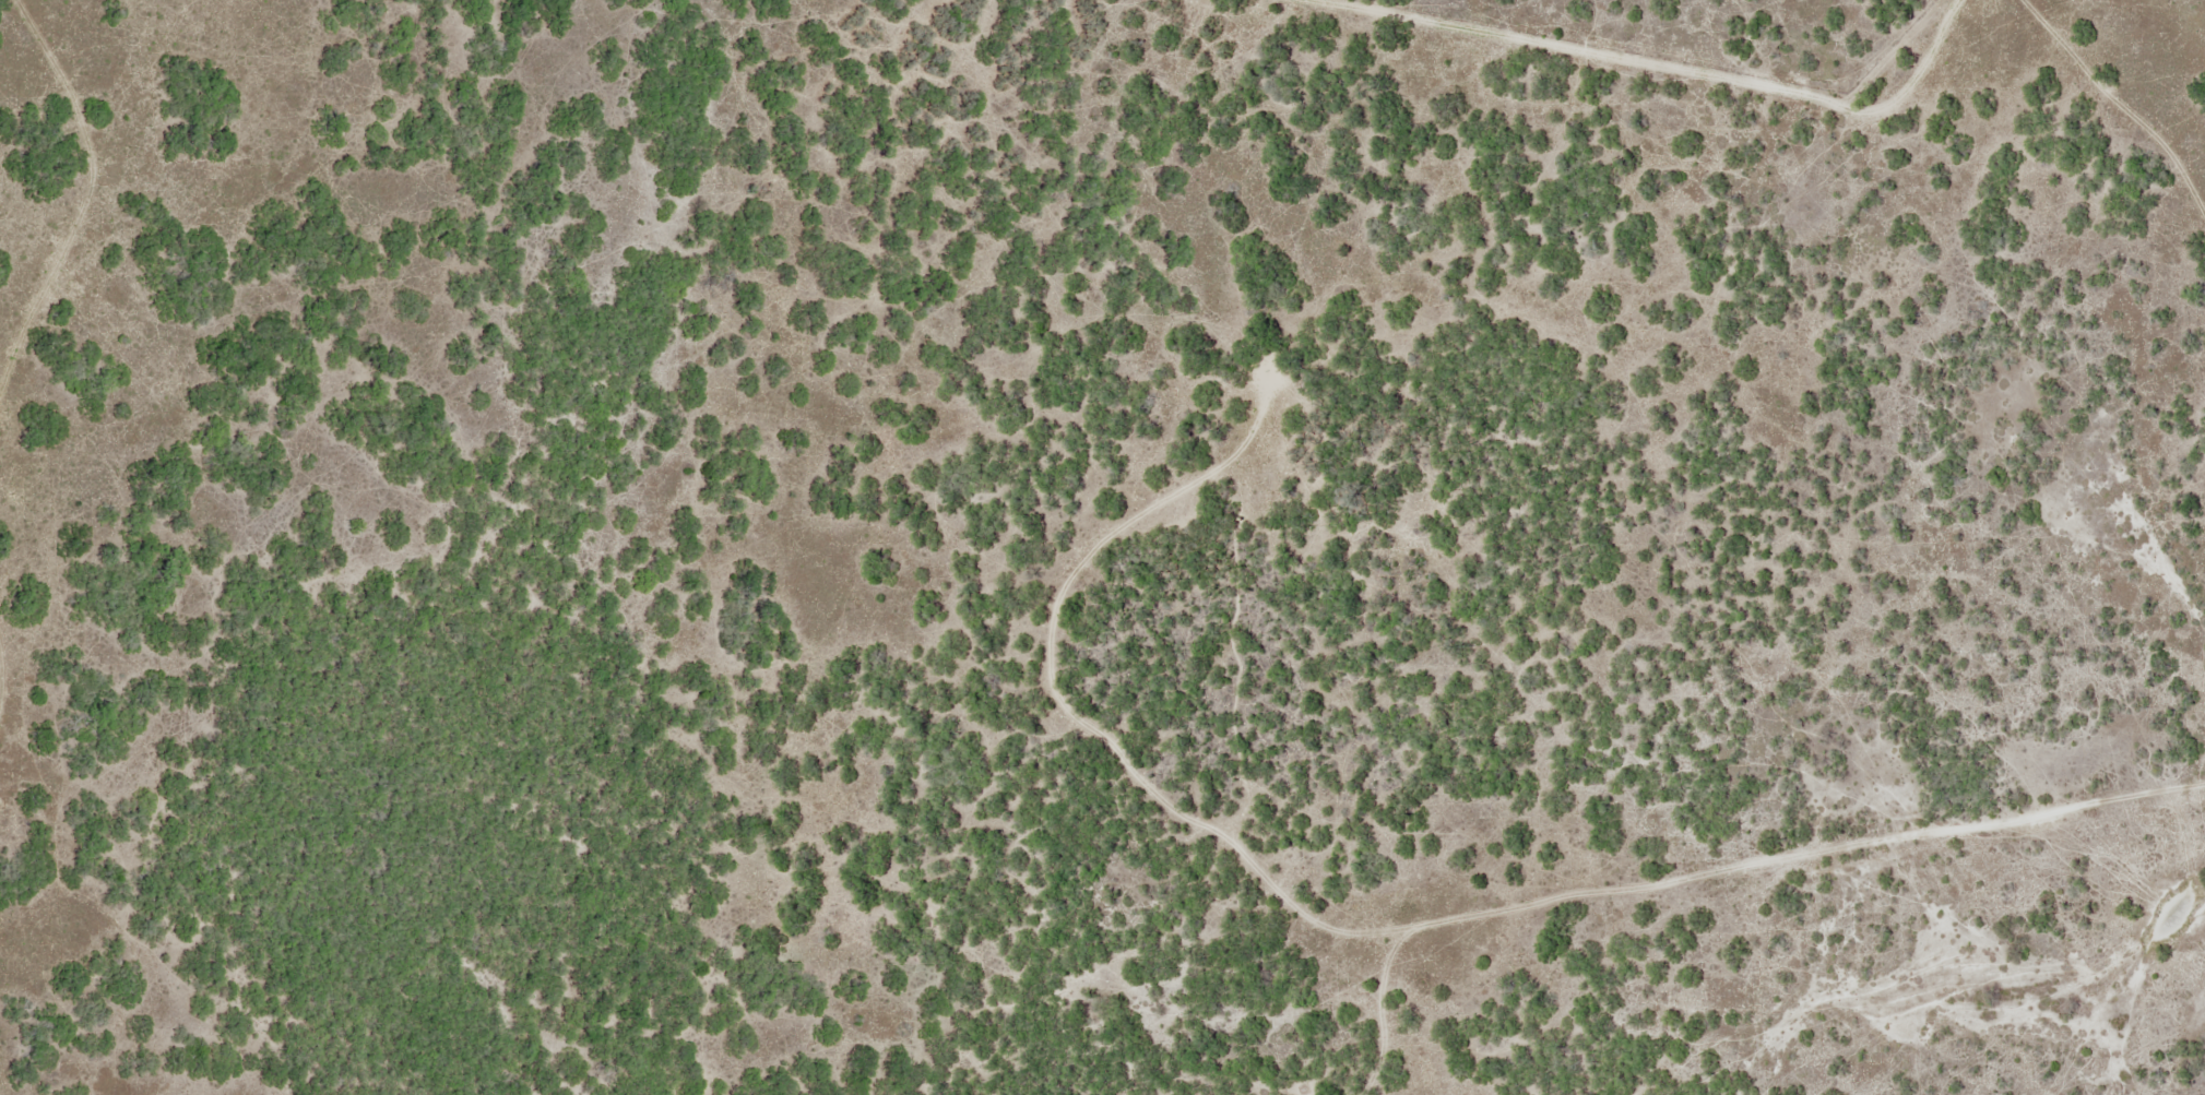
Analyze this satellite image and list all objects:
road: (2121, 83)

